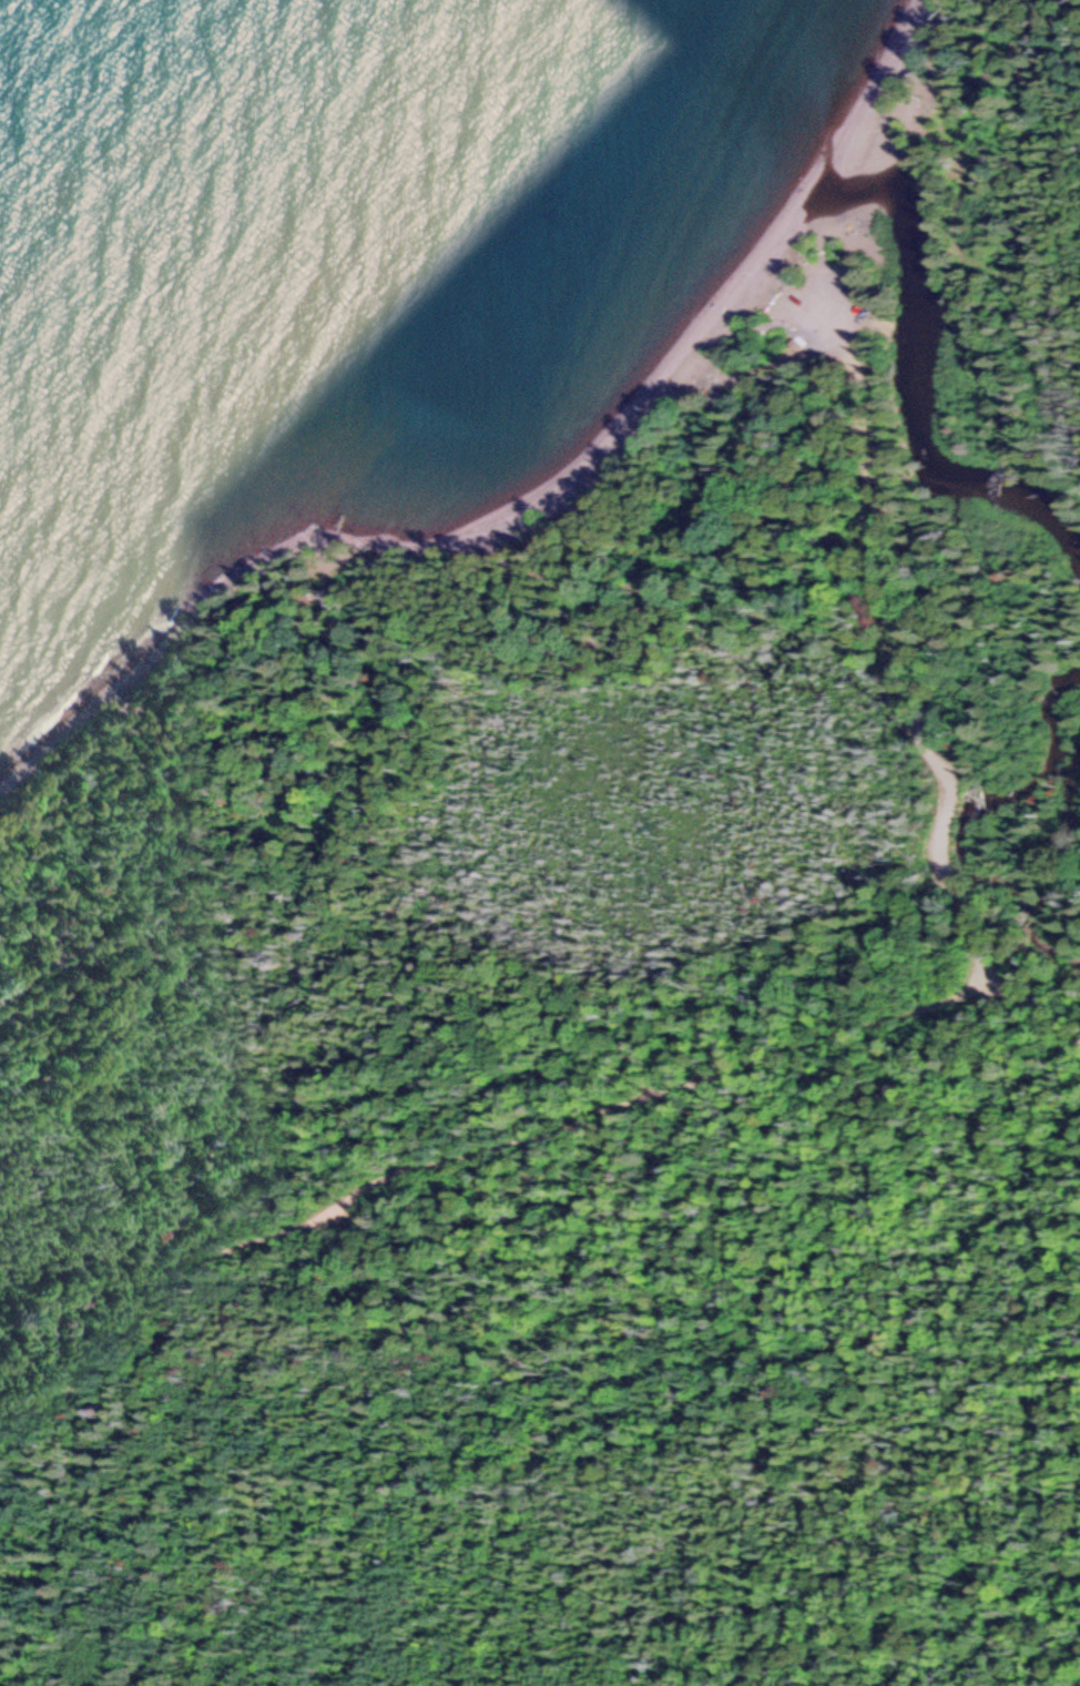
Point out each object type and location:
river: (915, 352)
park: (664, 627)
road: (917, 692)
river: (986, 822)
road: (477, 1154)
road: (1079, 1685)

